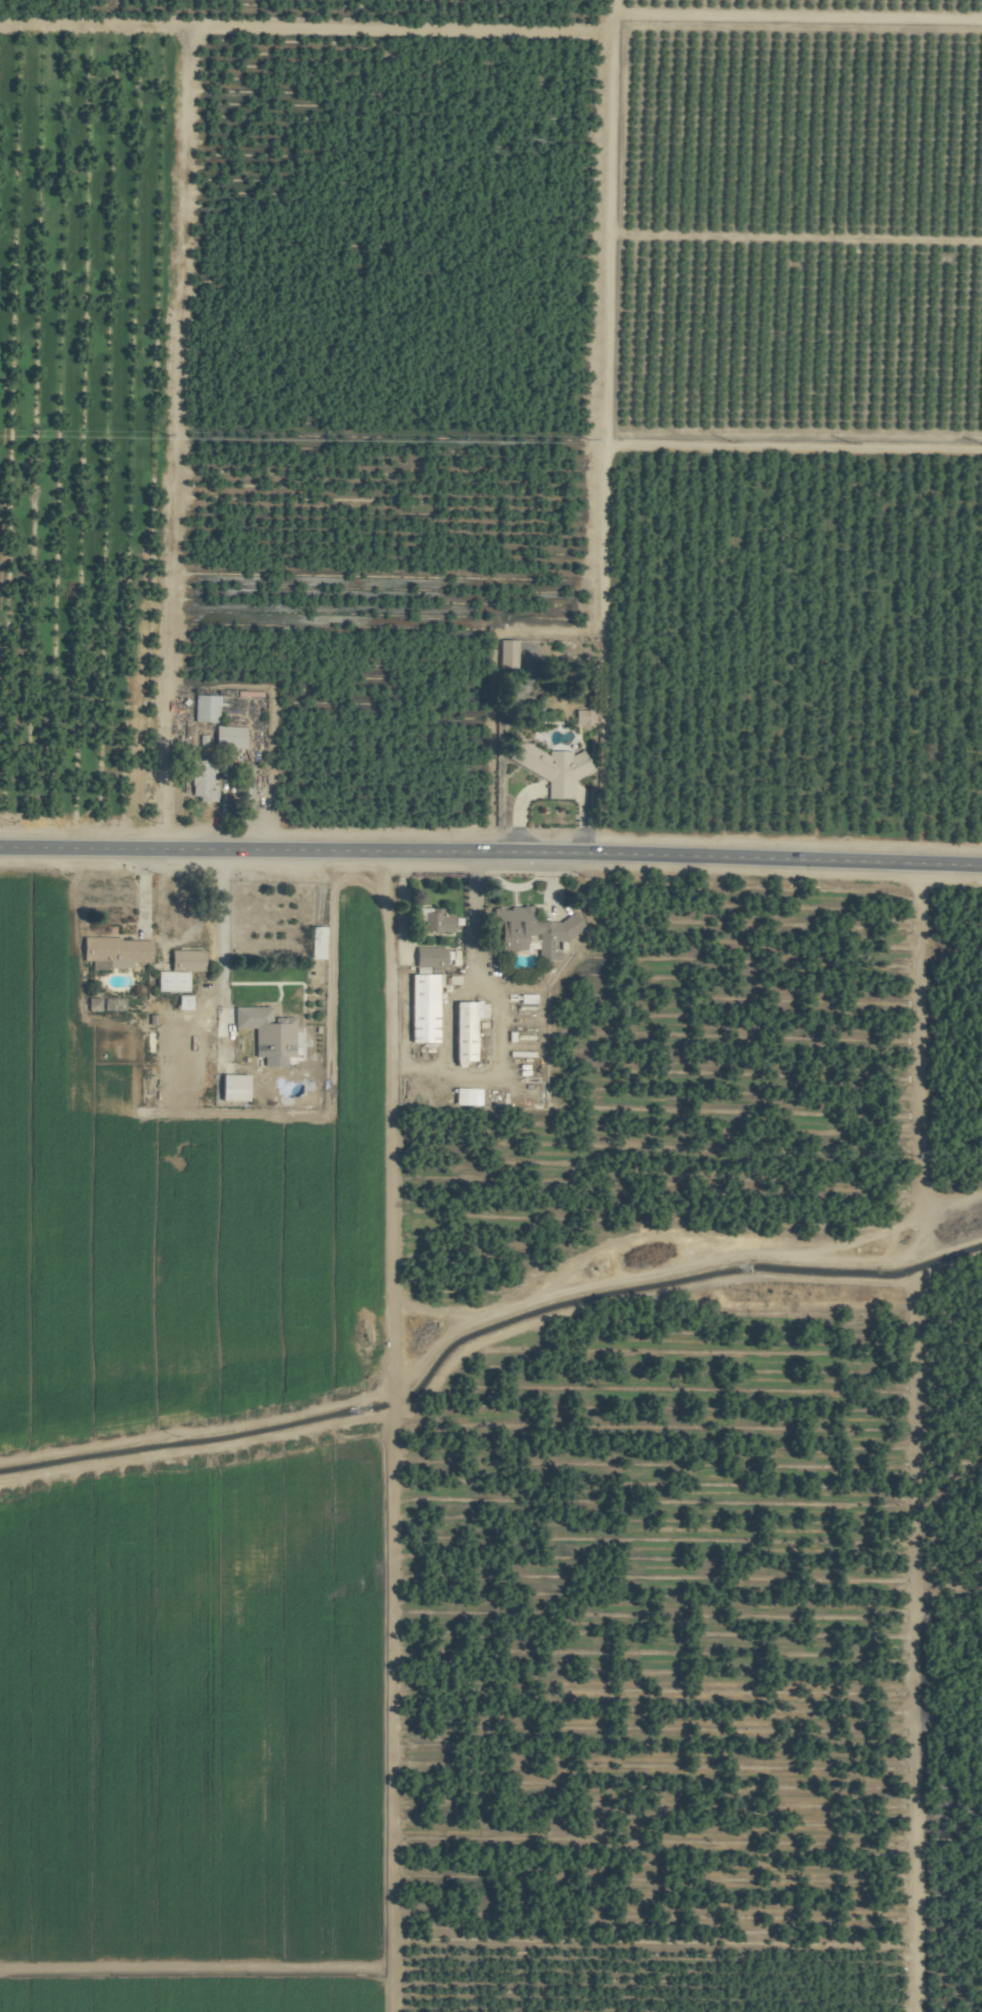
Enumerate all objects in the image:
building: (505, 651)
building: (206, 708)
building: (581, 717)
building: (228, 737)
building: (550, 768)
building: (200, 782)
road: (491, 852)
building: (431, 921)
building: (527, 931)
building: (527, 942)
building: (313, 943)
building: (114, 951)
building: (428, 957)
building: (184, 961)
building: (169, 982)
building: (182, 1003)
crop: (491, 1006)
building: (420, 1009)
building: (463, 1030)
building: (266, 1033)
road: (420, 1067)
building: (230, 1089)
building: (464, 1097)

